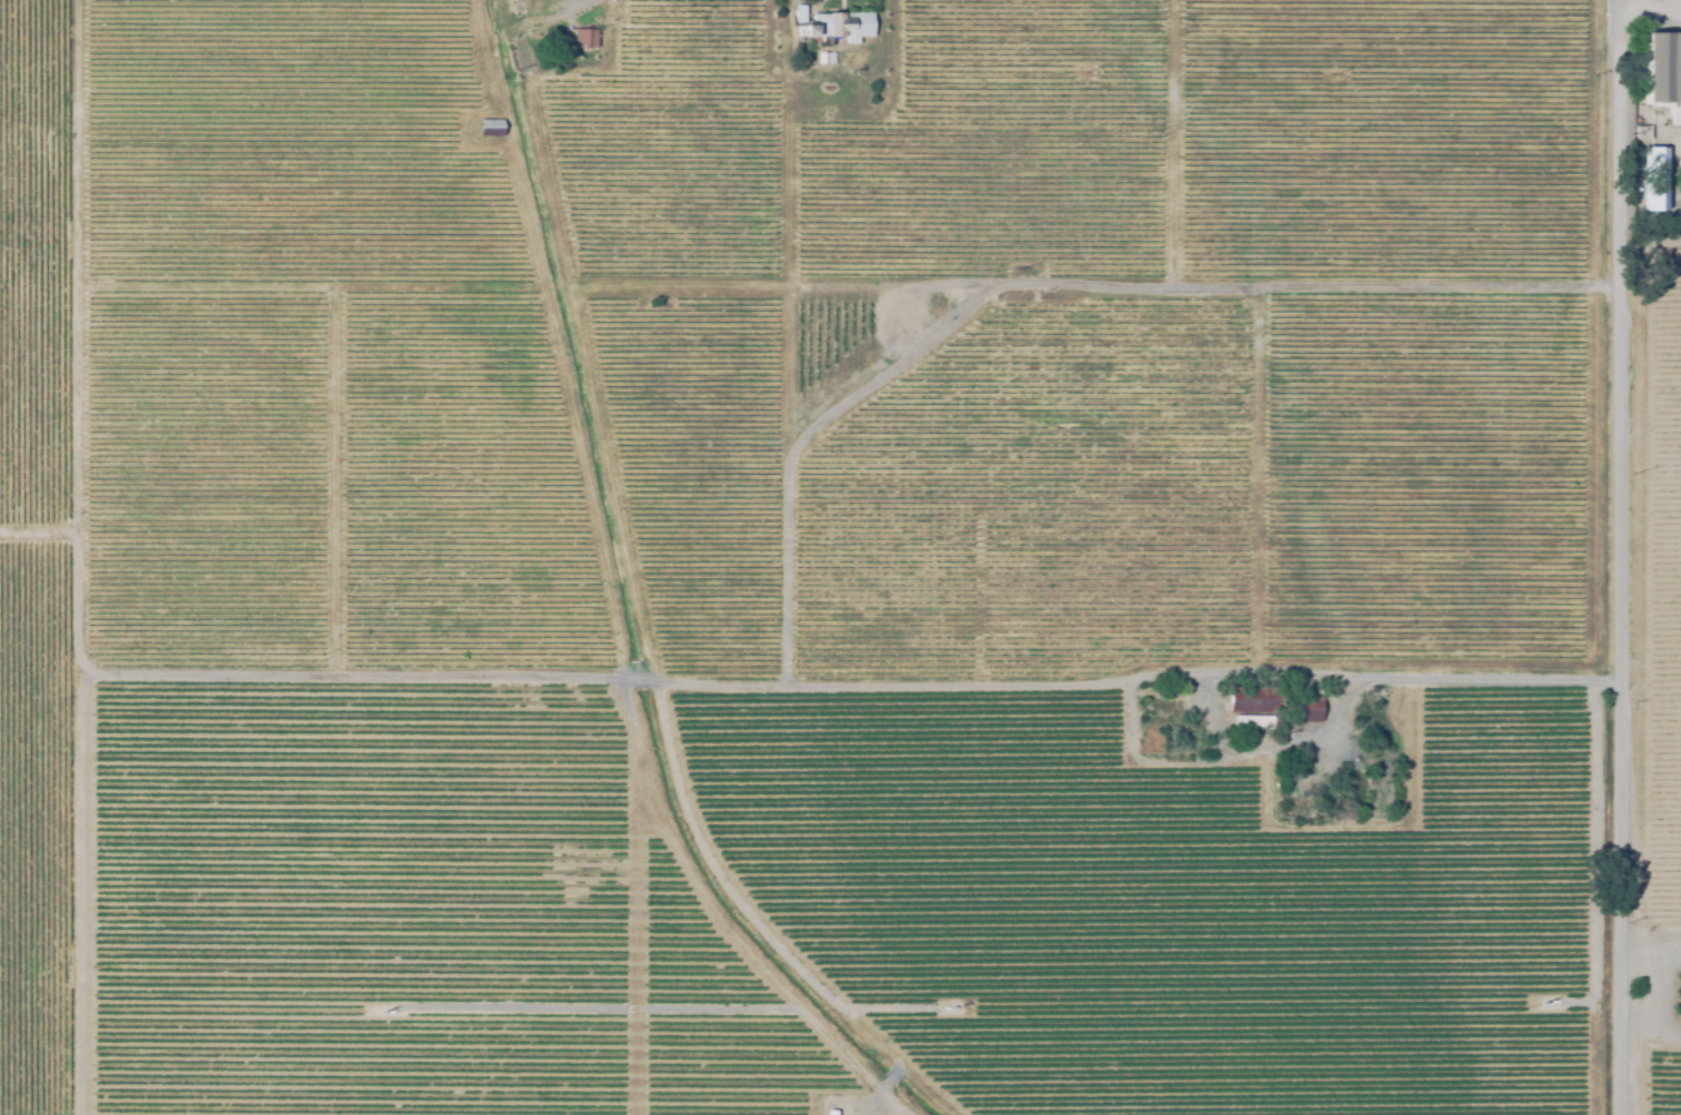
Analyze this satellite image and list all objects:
road: (1651, 4)
road: (558, 6)
building: (800, 14)
building: (840, 26)
building: (529, 32)
building: (581, 39)
building: (827, 59)
building: (1661, 69)
building: (490, 129)
building: (1639, 134)
building: (1651, 181)
road: (1607, 557)
road: (1268, 672)
building: (1165, 707)
building: (1280, 707)
building: (1175, 723)
building: (1255, 723)
building: (1192, 739)
building: (1307, 780)
building: (1376, 790)
building: (831, 1112)

